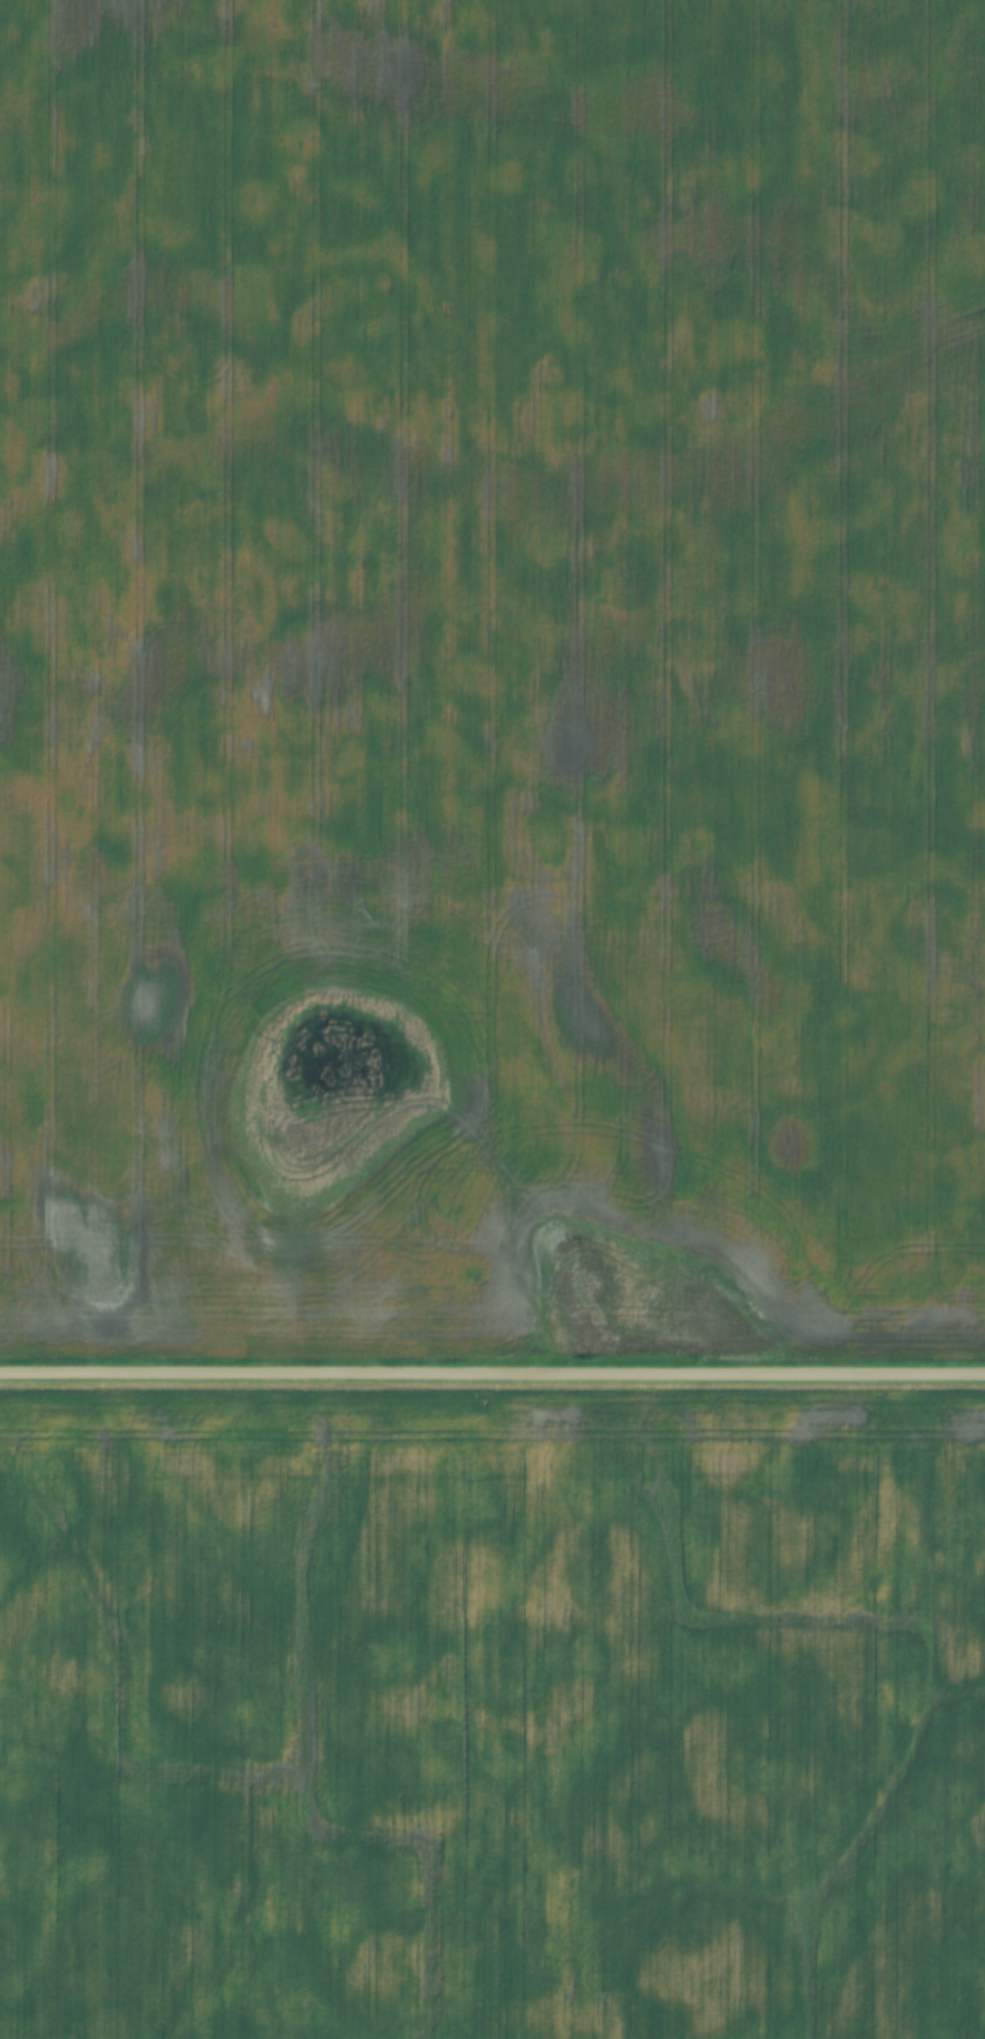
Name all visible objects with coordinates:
road: (492, 1376)
building: (384, 1456)
building: (444, 1457)

